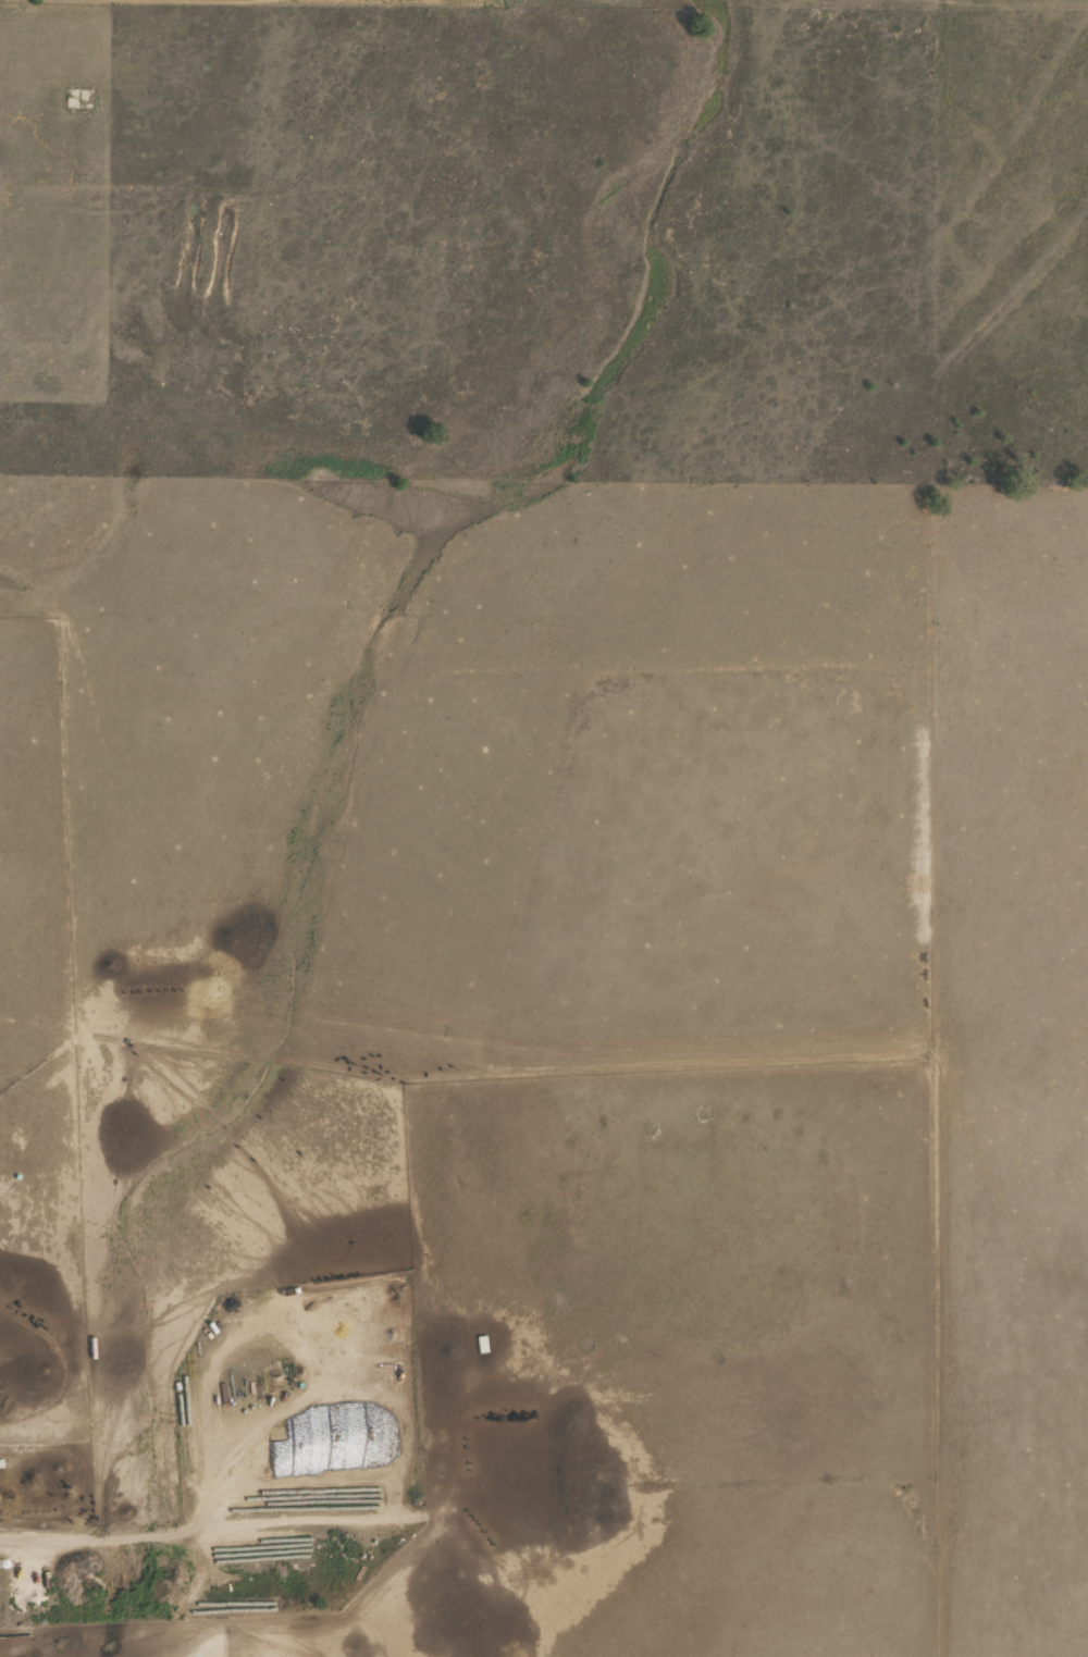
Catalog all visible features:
building: (72, 99)

